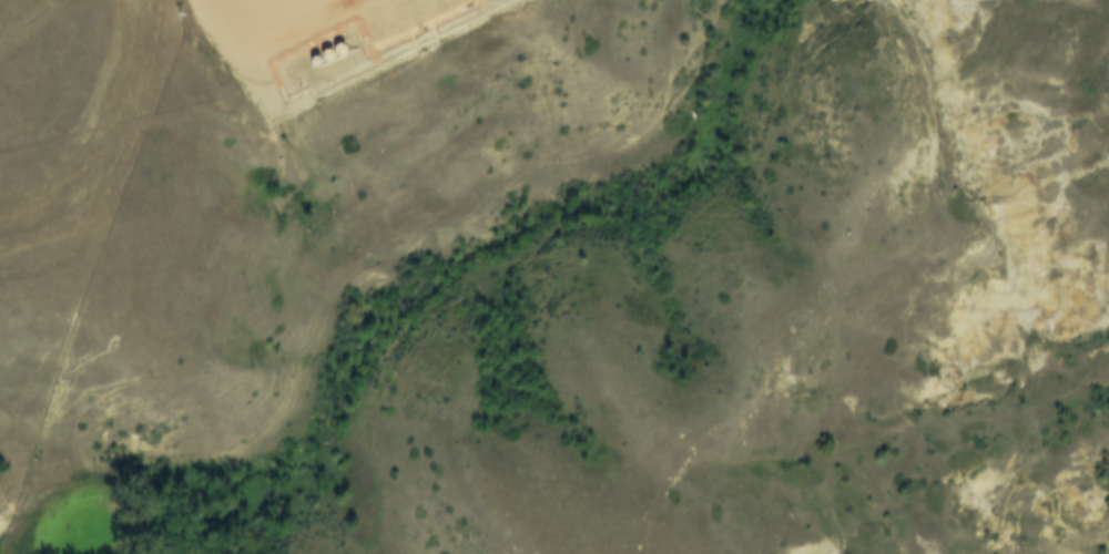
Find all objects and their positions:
road: (268, 19)

